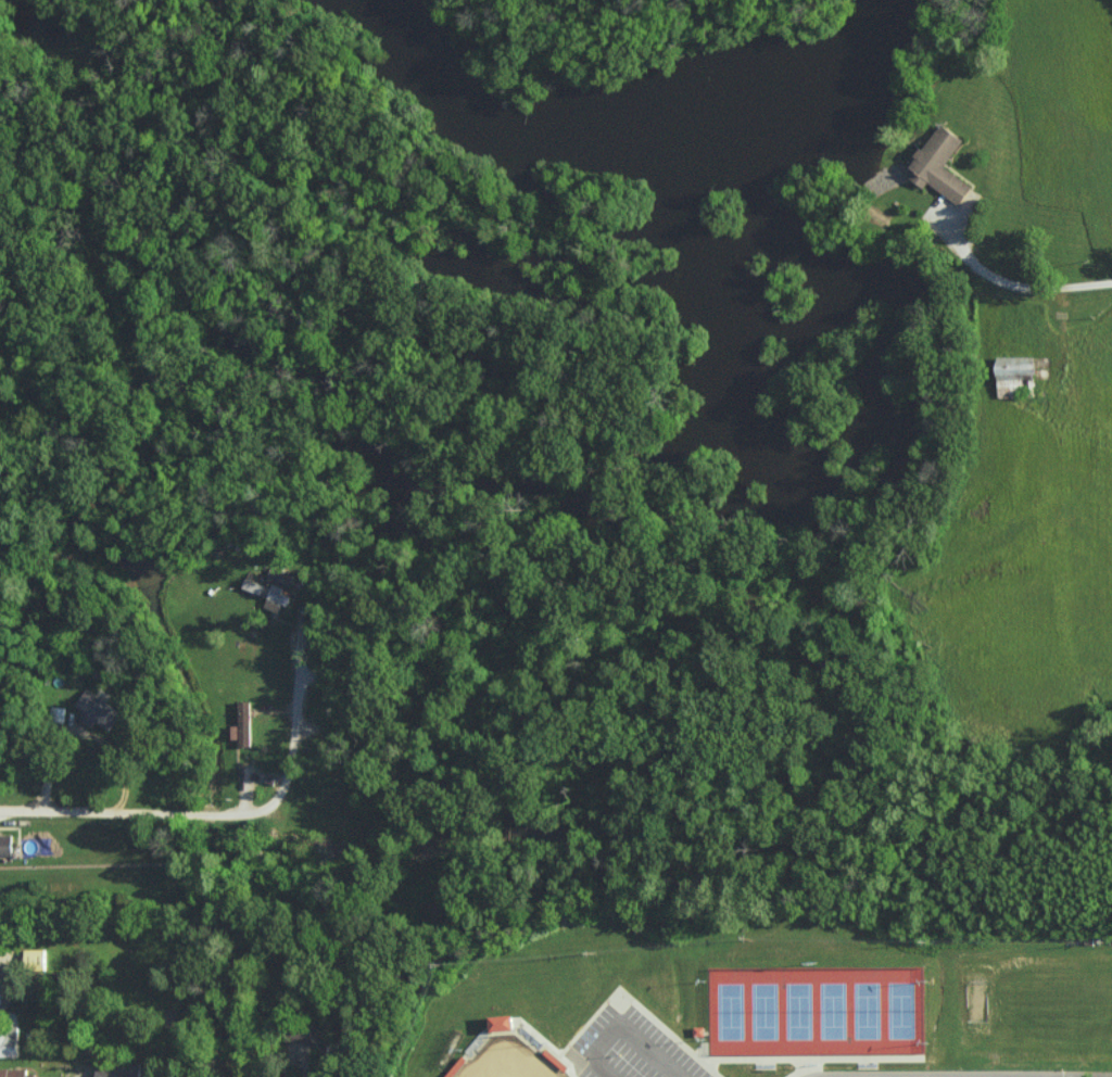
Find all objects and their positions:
building: (940, 164)
road: (1018, 287)
building: (1016, 372)
building: (269, 594)
building: (98, 710)
building: (243, 724)
road: (163, 815)
building: (7, 845)
building: (36, 959)
building: (4, 977)
park: (818, 1010)
building: (504, 1023)
building: (10, 1042)
park: (510, 1057)
building: (119, 1070)
building: (15, 1073)

